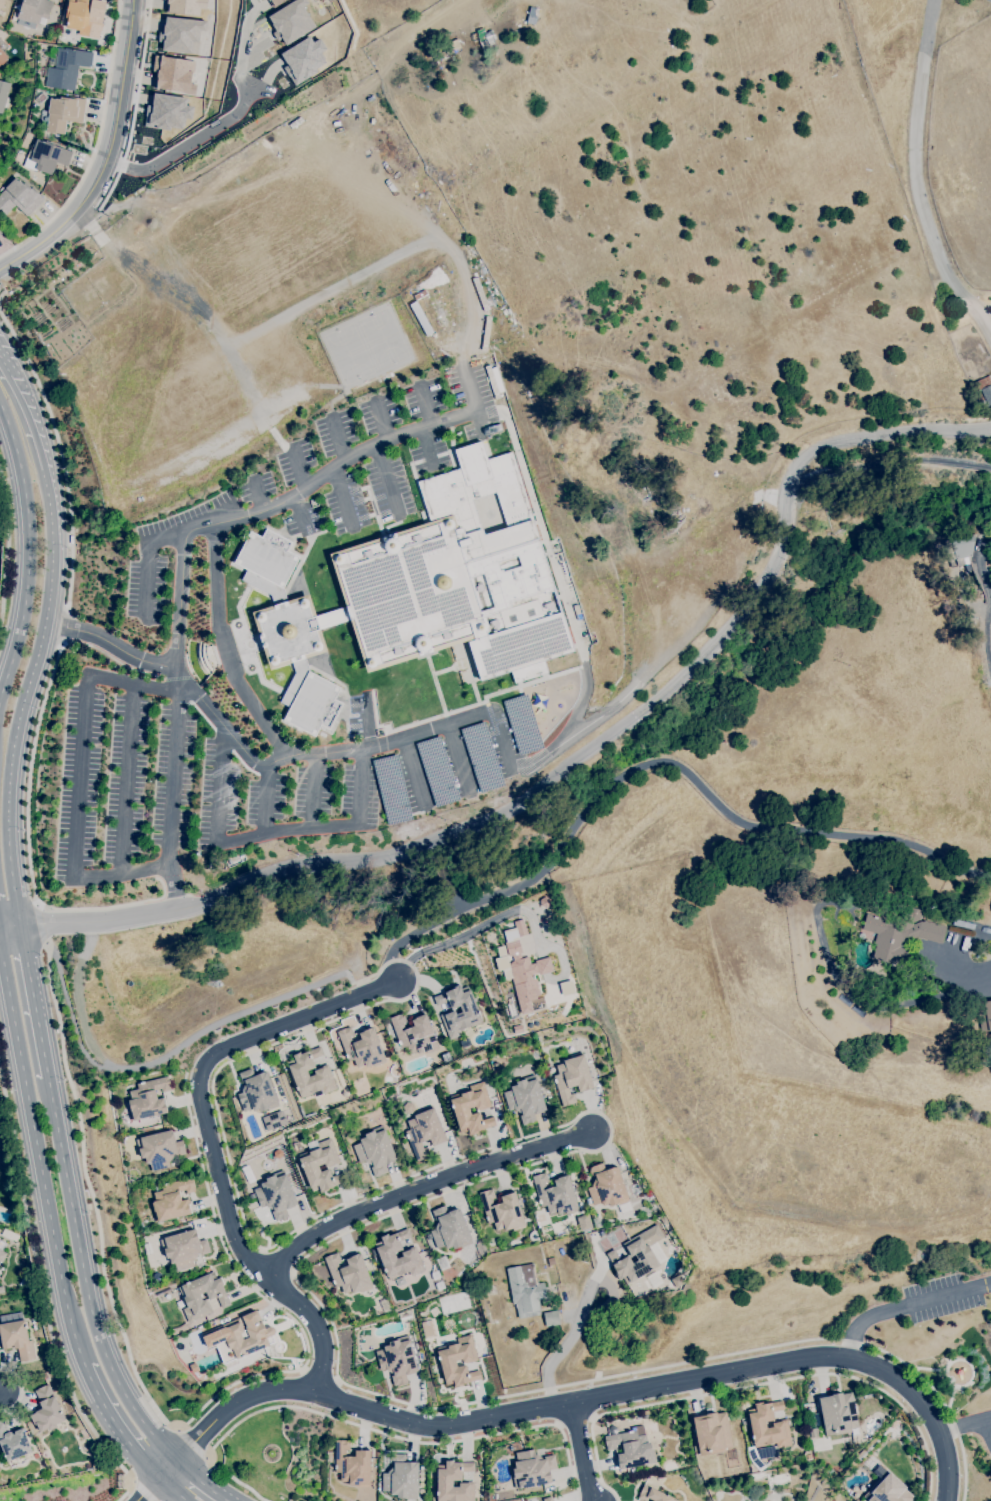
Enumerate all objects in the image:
building: (1, 4)
building: (33, 13)
building: (83, 17)
building: (291, 21)
building: (181, 35)
building: (2, 58)
road: (241, 60)
building: (6, 66)
building: (67, 68)
building: (174, 75)
building: (3, 93)
building: (41, 98)
building: (170, 112)
building: (64, 114)
road: (189, 145)
road: (94, 146)
building: (48, 156)
road: (107, 156)
road: (920, 175)
building: (1, 187)
building: (19, 198)
building: (1, 231)
road: (2, 295)
road: (982, 308)
road: (471, 393)
road: (426, 409)
road: (24, 419)
road: (385, 424)
road: (340, 443)
road: (379, 444)
road: (895, 464)
road: (299, 471)
road: (386, 481)
road: (257, 497)
road: (344, 500)
road: (295, 512)
road: (239, 517)
road: (6, 549)
road: (28, 555)
road: (149, 561)
building: (458, 576)
road: (990, 596)
parking lot: (148, 621)
building: (289, 632)
road: (110, 645)
road: (224, 649)
road: (50, 677)
road: (25, 698)
road: (205, 706)
road: (364, 722)
road: (456, 723)
building: (522, 725)
building: (481, 757)
road: (458, 761)
road: (655, 764)
road: (572, 768)
building: (437, 771)
road: (411, 774)
road: (128, 779)
road: (81, 780)
building: (391, 790)
road: (314, 792)
road: (172, 793)
road: (268, 799)
road: (265, 835)
road: (41, 924)
road: (9, 927)
building: (899, 938)
building: (521, 976)
road: (33, 1002)
building: (470, 1012)
building: (984, 1015)
road: (288, 1030)
building: (414, 1034)
building: (464, 1043)
building: (362, 1048)
road: (158, 1059)
building: (299, 1073)
building: (572, 1079)
building: (257, 1092)
building: (148, 1099)
building: (525, 1100)
building: (409, 1108)
building: (461, 1110)
building: (273, 1120)
building: (424, 1133)
building: (159, 1149)
building: (376, 1151)
road: (38, 1156)
building: (309, 1167)
road: (469, 1185)
road: (424, 1189)
building: (608, 1189)
building: (276, 1195)
building: (555, 1195)
building: (649, 1195)
building: (172, 1201)
building: (502, 1211)
building: (583, 1222)
building: (449, 1229)
building: (148, 1249)
building: (183, 1249)
road: (246, 1253)
building: (386, 1255)
building: (577, 1255)
building: (2, 1256)
building: (646, 1258)
building: (551, 1261)
building: (443, 1264)
building: (349, 1274)
road: (85, 1279)
building: (24, 1283)
building: (2, 1290)
building: (526, 1291)
road: (42, 1296)
building: (191, 1298)
building: (386, 1307)
road: (907, 1307)
building: (551, 1318)
road: (576, 1328)
building: (225, 1335)
building: (17, 1339)
building: (398, 1360)
building: (447, 1362)
building: (44, 1375)
road: (756, 1386)
road: (20, 1390)
road: (4, 1393)
road: (582, 1403)
building: (47, 1410)
building: (838, 1414)
road: (165, 1422)
road: (117, 1425)
road: (966, 1427)
building: (768, 1429)
road: (988, 1429)
road: (374, 1430)
building: (813, 1433)
building: (712, 1434)
building: (856, 1438)
building: (14, 1444)
road: (191, 1444)
building: (631, 1449)
road: (582, 1453)
building: (95, 1465)
building: (352, 1465)
building: (532, 1469)
building: (632, 1471)
building: (401, 1478)
road: (199, 1481)
building: (445, 1481)
road: (142, 1488)
building: (886, 1488)
road: (172, 1489)
road: (147, 1490)
building: (653, 1495)
building: (547, 1499)

